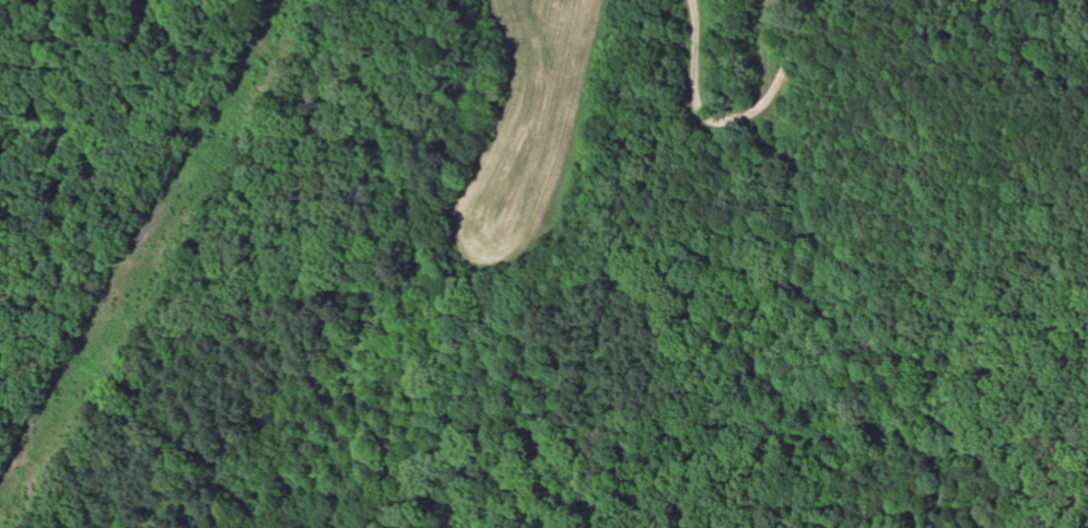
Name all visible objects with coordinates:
road: (698, 60)
road: (783, 81)

